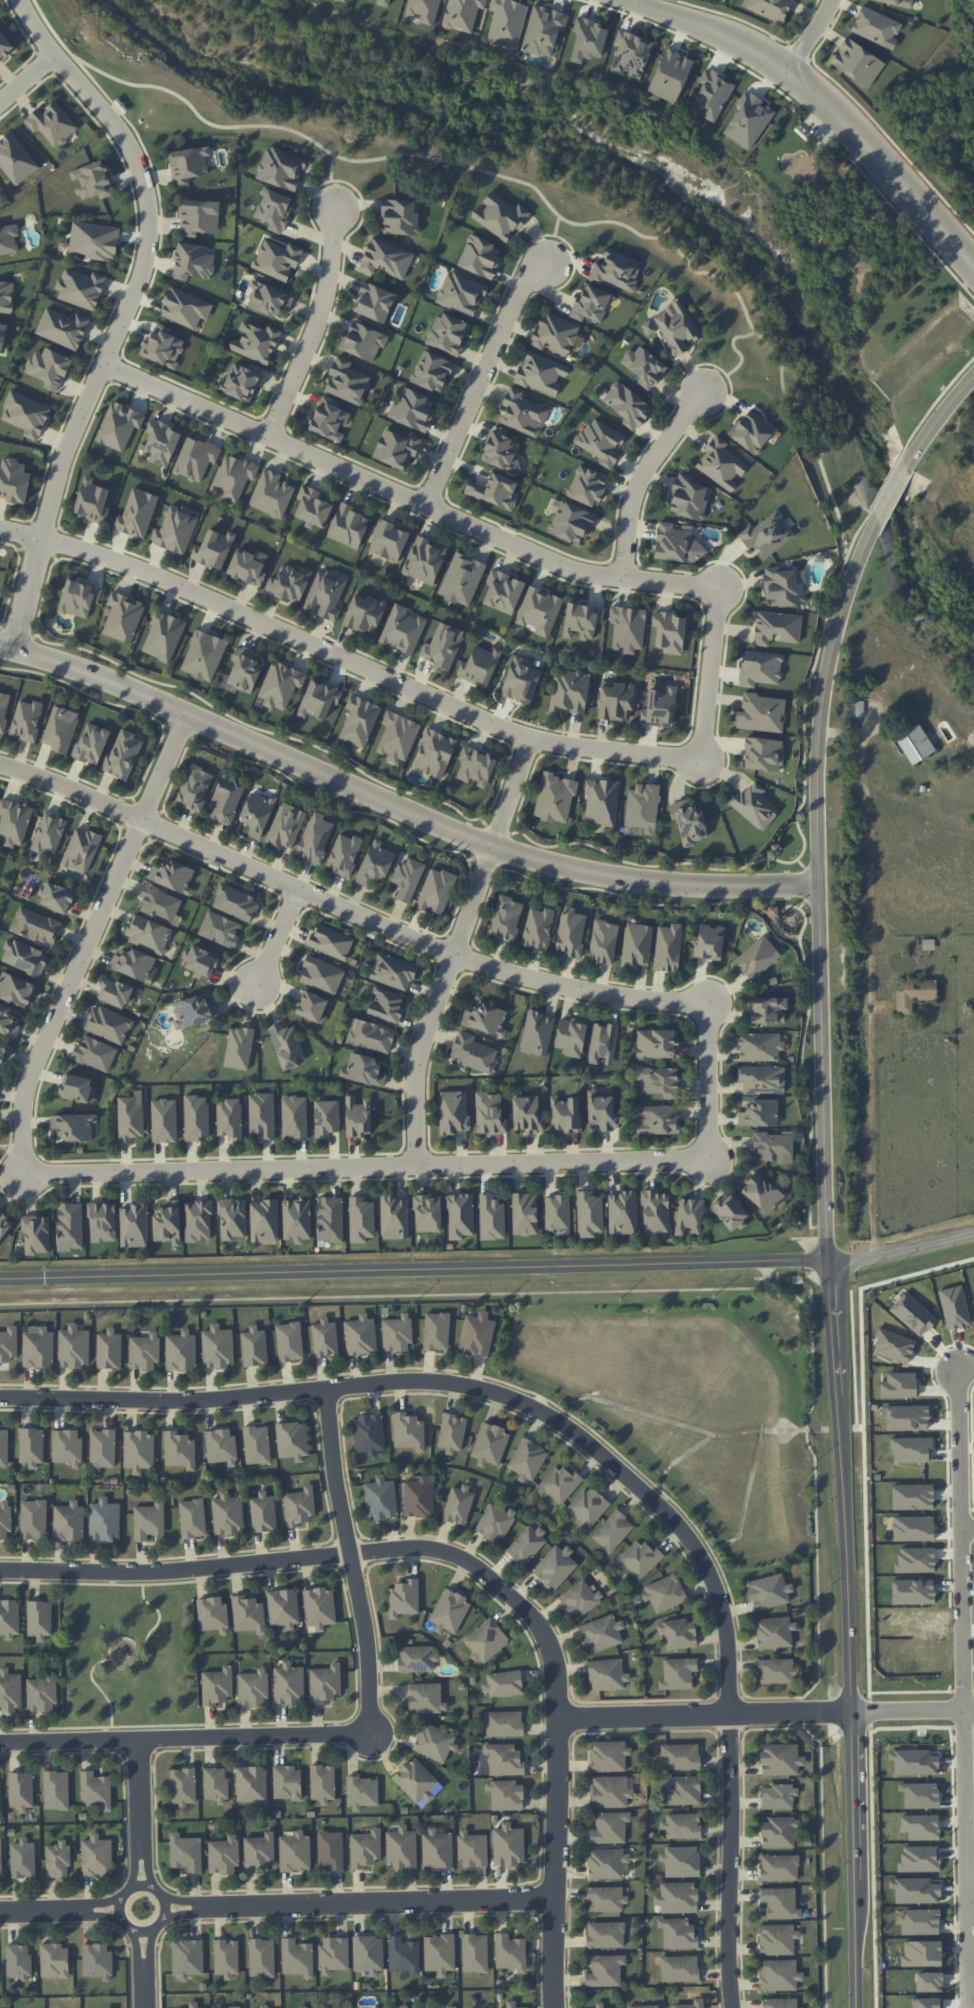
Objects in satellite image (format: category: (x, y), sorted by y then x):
building: (346, 0)
road: (636, 1)
building: (383, 2)
building: (899, 2)
building: (769, 8)
building: (424, 10)
building: (462, 14)
building: (507, 22)
building: (876, 27)
building: (544, 30)
road: (807, 32)
building: (588, 40)
building: (5, 46)
building: (630, 53)
building: (857, 62)
building: (670, 75)
road: (29, 81)
building: (711, 95)
road: (825, 97)
building: (748, 120)
building: (52, 123)
building: (16, 159)
building: (188, 164)
building: (281, 168)
building: (91, 181)
building: (274, 209)
building: (500, 215)
building: (400, 216)
building: (198, 217)
building: (9, 239)
building: (94, 240)
building: (480, 256)
building: (386, 258)
building: (277, 259)
building: (193, 261)
building: (617, 270)
building: (81, 288)
building: (461, 293)
building: (6, 296)
building: (268, 299)
building: (374, 302)
building: (591, 304)
building: (184, 307)
road: (132, 311)
road: (314, 324)
building: (676, 327)
building: (63, 328)
building: (448, 333)
building: (556, 334)
building: (2, 335)
building: (363, 341)
building: (256, 342)
building: (163, 346)
building: (643, 365)
building: (49, 368)
building: (432, 371)
building: (541, 373)
road: (480, 377)
building: (241, 381)
building: (347, 381)
building: (627, 405)
building: (413, 409)
building: (523, 413)
building: (26, 414)
building: (328, 419)
building: (119, 425)
building: (752, 431)
building: (601, 441)
building: (161, 442)
building: (397, 448)
building: (500, 449)
building: (196, 458)
building: (721, 464)
road: (640, 473)
building: (233, 476)
building: (13, 480)
building: (587, 486)
building: (494, 491)
building: (271, 494)
building: (688, 497)
building: (92, 501)
building: (313, 507)
building: (137, 513)
building: (571, 522)
building: (349, 525)
building: (175, 529)
building: (766, 534)
building: (389, 541)
building: (673, 542)
building: (214, 548)
building: (425, 560)
street lamp: (614, 560)
building: (248, 566)
road: (661, 568)
building: (462, 579)
building: (289, 583)
building: (783, 585)
building: (503, 591)
building: (326, 593)
building: (79, 598)
street lamp: (740, 601)
building: (539, 610)
building: (365, 613)
building: (122, 616)
building: (582, 620)
building: (776, 627)
building: (628, 628)
building: (402, 629)
building: (669, 631)
building: (163, 636)
building: (443, 647)
building: (204, 655)
building: (480, 665)
building: (759, 668)
building: (244, 669)
building: (521, 679)
building: (280, 684)
building: (569, 691)
building: (319, 699)
building: (616, 700)
building: (661, 706)
building: (4, 708)
building: (761, 713)
road: (703, 714)
road: (804, 714)
building: (26, 720)
building: (359, 720)
street lamp: (533, 726)
building: (60, 728)
building: (397, 736)
building: (91, 743)
building: (915, 743)
road: (526, 748)
building: (434, 753)
road: (540, 753)
building: (764, 753)
building: (123, 754)
road: (572, 762)
road: (597, 763)
street lamp: (726, 763)
building: (475, 766)
road: (653, 768)
road: (679, 778)
building: (195, 787)
road: (70, 789)
building: (554, 797)
road: (817, 797)
building: (226, 799)
building: (601, 801)
building: (753, 806)
building: (642, 807)
road: (398, 810)
building: (257, 814)
street lamp: (830, 818)
building: (14, 822)
building: (687, 822)
building: (286, 825)
road: (498, 828)
building: (633, 830)
building: (49, 832)
building: (315, 837)
road: (479, 841)
road: (504, 849)
building: (81, 850)
street lamp: (467, 851)
building: (344, 854)
road: (487, 862)
building: (375, 863)
road: (650, 865)
road: (501, 868)
building: (173, 876)
building: (407, 878)
road: (805, 884)
building: (436, 890)
building: (56, 897)
building: (236, 902)
building: (159, 903)
road: (801, 904)
road: (804, 914)
building: (506, 918)
building: (36, 926)
building: (538, 928)
building: (220, 929)
road: (78, 932)
building: (571, 932)
building: (148, 933)
road: (415, 937)
road: (277, 938)
road: (85, 940)
building: (330, 941)
building: (603, 941)
building: (709, 942)
building: (636, 945)
road: (455, 946)
building: (668, 947)
street lamp: (834, 947)
building: (24, 957)
building: (757, 958)
building: (201, 963)
building: (134, 964)
building: (393, 971)
building: (322, 974)
road: (870, 984)
building: (15, 989)
building: (116, 992)
building: (914, 993)
street lamp: (731, 995)
building: (386, 1004)
building: (312, 1006)
building: (768, 1010)
building: (194, 1011)
building: (485, 1019)
building: (7, 1020)
building: (107, 1024)
building: (537, 1033)
building: (370, 1035)
building: (571, 1036)
building: (602, 1043)
building: (656, 1043)
building: (287, 1046)
building: (760, 1046)
building: (239, 1047)
building: (3, 1050)
building: (472, 1052)
building: (95, 1053)
building: (364, 1070)
road: (708, 1078)
building: (762, 1079)
building: (659, 1081)
street lamp: (836, 1084)
building: (79, 1088)
building: (454, 1111)
building: (602, 1111)
building: (489, 1113)
building: (759, 1113)
building: (262, 1114)
building: (527, 1114)
building: (564, 1114)
building: (130, 1117)
building: (196, 1117)
building: (294, 1117)
building: (326, 1117)
building: (358, 1117)
building: (229, 1118)
building: (658, 1119)
building: (164, 1120)
building: (74, 1126)
building: (773, 1146)
road: (364, 1164)
road: (635, 1172)
building: (762, 1193)
building: (655, 1211)
building: (557, 1212)
building: (622, 1212)
building: (428, 1213)
building: (731, 1213)
building: (524, 1214)
building: (589, 1214)
building: (688, 1215)
building: (460, 1216)
building: (394, 1217)
building: (491, 1217)
building: (232, 1218)
building: (297, 1219)
building: (330, 1219)
building: (361, 1219)
building: (198, 1220)
building: (264, 1221)
building: (102, 1222)
building: (168, 1222)
street lamp: (839, 1223)
building: (4, 1224)
building: (134, 1225)
building: (70, 1226)
building: (36, 1234)
road: (902, 1250)
road: (414, 1268)
building: (913, 1314)
building: (436, 1331)
building: (397, 1333)
building: (477, 1334)
building: (361, 1335)
building: (325, 1338)
building: (289, 1341)
building: (8, 1344)
building: (254, 1346)
building: (37, 1347)
building: (73, 1347)
building: (218, 1347)
building: (109, 1349)
building: (181, 1351)
building: (144, 1352)
building: (409, 1431)
building: (452, 1431)
building: (368, 1434)
building: (292, 1440)
building: (257, 1444)
building: (490, 1444)
building: (66, 1445)
building: (220, 1445)
building: (31, 1446)
building: (4, 1447)
building: (103, 1448)
building: (139, 1450)
building: (179, 1450)
road: (590, 1450)
building: (912, 1450)
building: (527, 1459)
building: (558, 1484)
road: (841, 1485)
building: (418, 1497)
building: (380, 1498)
building: (458, 1504)
building: (299, 1506)
building: (588, 1506)
building: (263, 1512)
building: (227, 1514)
building: (192, 1518)
building: (33, 1519)
building: (5, 1520)
building: (104, 1520)
building: (149, 1521)
building: (69, 1522)
building: (494, 1522)
road: (969, 1529)
building: (613, 1531)
building: (527, 1544)
building: (639, 1558)
building: (915, 1559)
road: (350, 1563)
road: (471, 1565)
building: (555, 1567)
building: (769, 1591)
building: (664, 1593)
building: (404, 1598)
building: (579, 1598)
building: (319, 1607)
building: (283, 1608)
building: (450, 1611)
building: (212, 1613)
building: (248, 1614)
building: (9, 1618)
building: (39, 1619)
building: (774, 1632)
building: (602, 1633)
building: (678, 1633)
building: (486, 1641)
building: (417, 1658)
road: (964, 1666)
building: (776, 1671)
building: (678, 1673)
building: (606, 1674)
building: (289, 1683)
building: (325, 1683)
building: (503, 1683)
building: (217, 1686)
building: (253, 1687)
building: (10, 1690)
building: (41, 1695)
building: (426, 1698)
road: (913, 1711)
road: (702, 1714)
building: (504, 1723)
road: (185, 1736)
building: (435, 1743)
building: (609, 1755)
building: (680, 1756)
building: (504, 1759)
building: (780, 1759)
building: (416, 1780)
building: (287, 1782)
building: (251, 1783)
building: (322, 1783)
building: (183, 1785)
building: (216, 1785)
building: (21, 1790)
building: (56, 1790)
building: (95, 1790)
building: (683, 1790)
building: (609, 1791)
building: (362, 1792)
building: (507, 1795)
building: (778, 1796)
road: (139, 1811)
building: (681, 1825)
building: (920, 1826)
building: (610, 1827)
building: (779, 1832)
building: (508, 1845)
building: (366, 1848)
building: (401, 1848)
building: (437, 1849)
building: (472, 1849)
building: (330, 1850)
building: (259, 1851)
building: (186, 1852)
building: (295, 1852)
building: (97, 1855)
building: (224, 1855)
building: (1, 1856)
building: (23, 1858)
building: (58, 1859)
building: (919, 1859)
road: (853, 1860)
building: (681, 1861)
building: (607, 1863)
building: (779, 1867)
building: (915, 1890)
building: (677, 1897)
building: (606, 1898)
building: (780, 1903)
road: (359, 1905)
road: (57, 1911)
building: (919, 1922)
road: (158, 1926)
building: (678, 1933)
building: (605, 1934)
building: (777, 1939)
building: (510, 1952)
building: (439, 1953)
building: (475, 1953)
building: (922, 1953)
building: (333, 1954)
building: (368, 1954)
building: (403, 1955)
building: (226, 1957)
building: (262, 1957)
building: (297, 1957)
building: (187, 1958)
building: (54, 1960)
building: (97, 1960)
building: (18, 1961)
building: (679, 1968)
building: (605, 1970)
road: (144, 1971)
building: (779, 1975)
road: (972, 1975)
building: (928, 1981)
road: (970, 1992)
building: (779, 2003)
building: (193, 2004)
building: (511, 2004)
building: (691, 2004)
building: (264, 2006)
building: (403, 2006)
building: (596, 2006)
building: (643, 2006)
building: (109, 2007)
building: (206, 2007)
building: (228, 2007)
building: (327, 2007)
building: (374, 2007)
building: (451, 2007)
building: (486, 2007)
building: (616, 2007)

